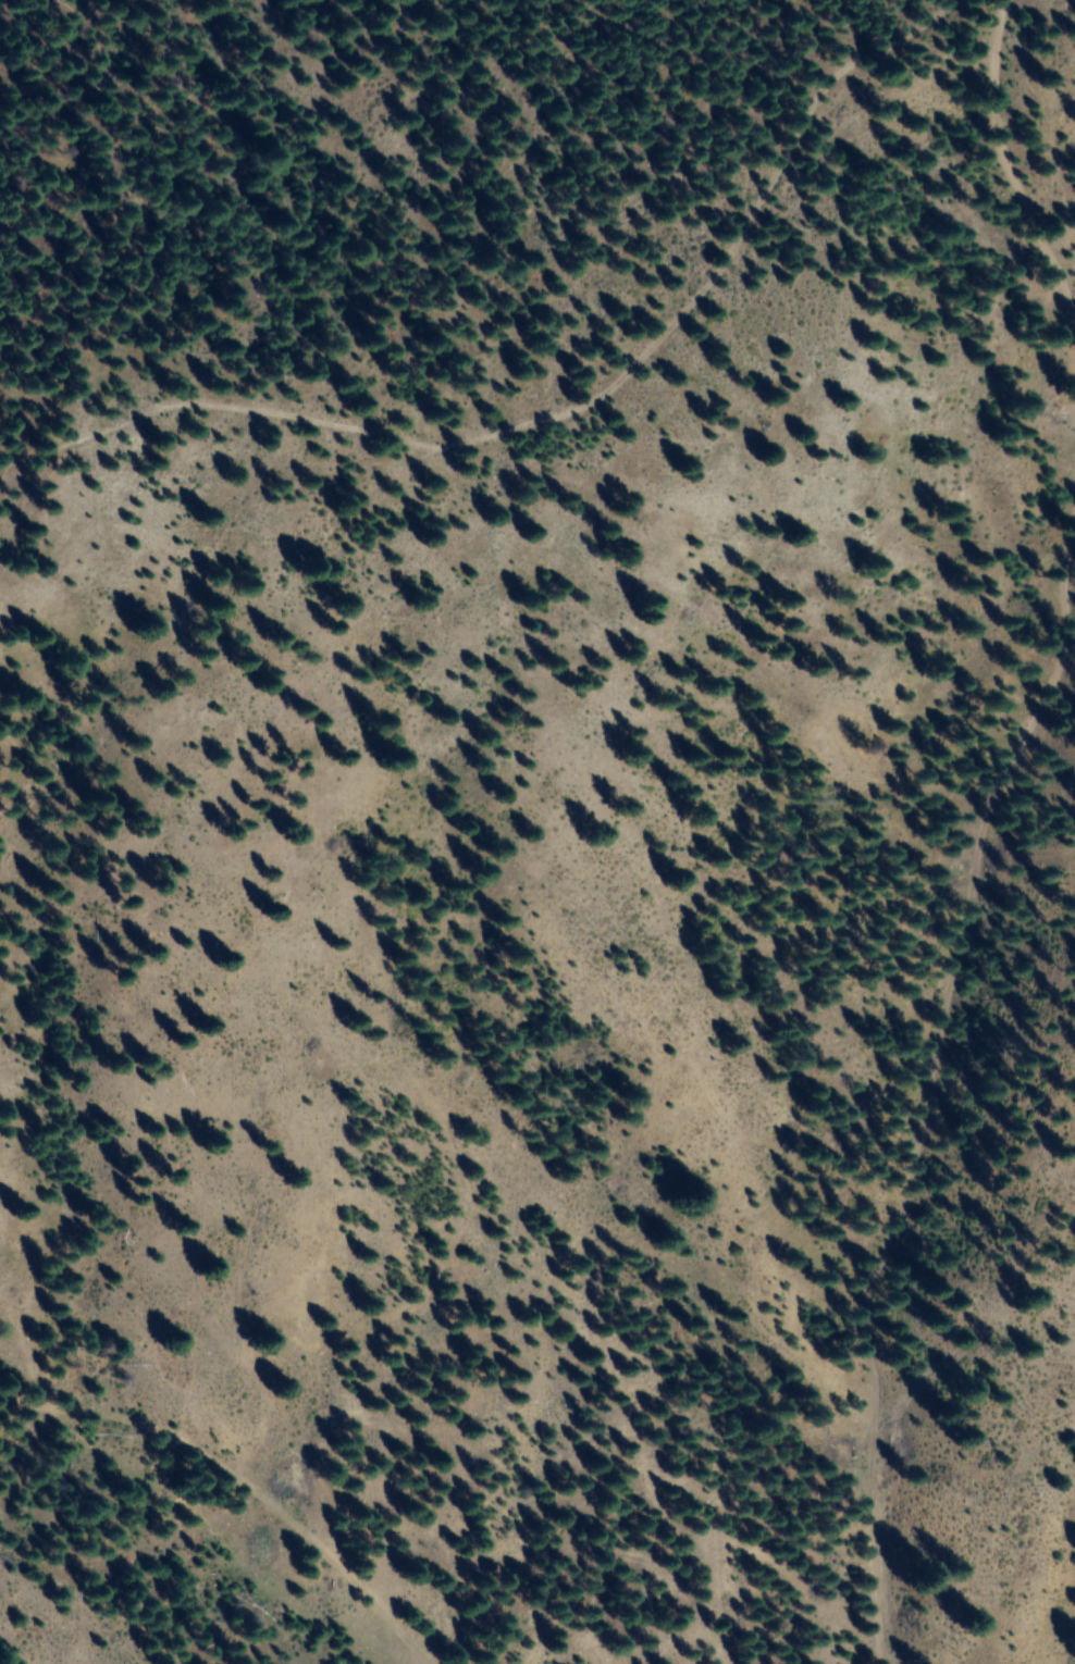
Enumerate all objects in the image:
road: (1064, 10)
road: (1020, 257)
road: (893, 1178)

